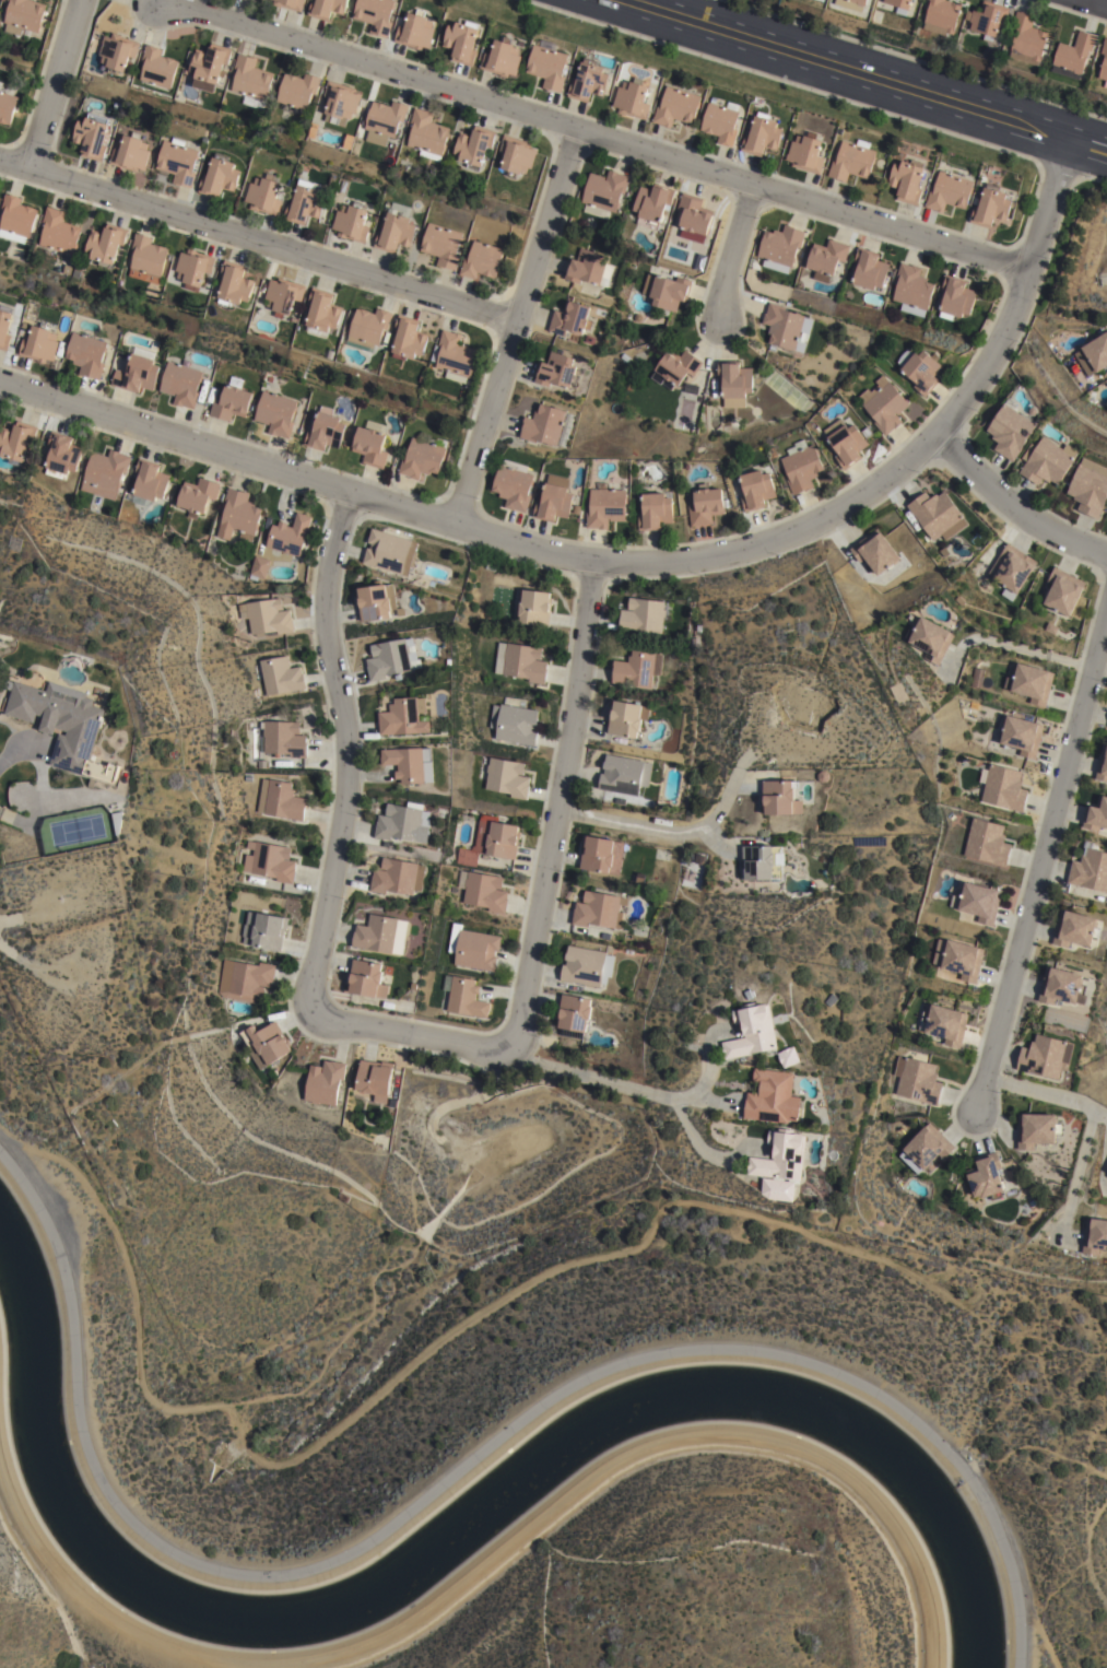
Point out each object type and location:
road: (1098, 2)
building: (291, 3)
building: (850, 3)
building: (900, 4)
building: (327, 8)
building: (375, 14)
building: (23, 16)
building: (941, 16)
building: (987, 19)
building: (416, 30)
building: (1025, 38)
building: (462, 39)
building: (116, 50)
building: (1072, 55)
building: (503, 58)
building: (1104, 62)
building: (547, 63)
building: (210, 64)
building: (157, 67)
road: (864, 75)
building: (250, 80)
building: (589, 81)
road: (55, 82)
building: (297, 89)
building: (341, 101)
building: (632, 101)
building: (7, 102)
building: (676, 106)
building: (385, 117)
building: (721, 121)
road: (594, 132)
building: (426, 134)
building: (762, 136)
building: (92, 138)
building: (473, 144)
building: (131, 154)
building: (805, 154)
building: (516, 155)
building: (852, 160)
building: (177, 161)
building: (217, 178)
building: (907, 181)
building: (333, 183)
building: (344, 186)
building: (950, 191)
building: (603, 192)
building: (263, 196)
building: (305, 202)
building: (652, 204)
building: (992, 207)
building: (693, 218)
building: (16, 219)
building: (352, 222)
building: (396, 228)
building: (58, 234)
road: (258, 238)
building: (106, 244)
building: (443, 245)
building: (780, 247)
road: (732, 249)
building: (148, 256)
building: (826, 259)
building: (482, 260)
building: (192, 268)
building: (588, 268)
building: (67, 270)
building: (870, 270)
building: (233, 284)
building: (912, 290)
building: (666, 291)
building: (283, 295)
building: (956, 298)
building: (321, 312)
building: (569, 320)
road: (516, 325)
building: (786, 327)
building: (5, 328)
building: (368, 328)
building: (408, 339)
building: (40, 345)
building: (1096, 353)
building: (87, 354)
building: (455, 356)
building: (674, 369)
building: (923, 372)
building: (556, 373)
building: (138, 375)
building: (735, 383)
building: (185, 385)
building: (688, 387)
building: (233, 401)
building: (884, 404)
building: (275, 413)
building: (546, 426)
building: (1011, 430)
building: (325, 431)
building: (15, 442)
building: (372, 444)
building: (849, 445)
building: (62, 454)
building: (424, 457)
building: (1047, 462)
building: (801, 467)
building: (105, 474)
building: (151, 482)
building: (513, 485)
building: (1090, 488)
building: (756, 491)
building: (199, 497)
building: (553, 500)
road: (1011, 504)
building: (704, 505)
building: (604, 507)
building: (576, 509)
building: (655, 512)
building: (238, 513)
building: (937, 513)
building: (288, 532)
building: (387, 547)
building: (874, 549)
building: (943, 550)
road: (634, 561)
building: (259, 564)
building: (1010, 566)
building: (1062, 587)
building: (376, 602)
building: (534, 608)
building: (400, 612)
building: (267, 613)
building: (643, 616)
building: (1050, 626)
building: (699, 630)
building: (930, 635)
building: (695, 644)
road: (1011, 646)
building: (390, 659)
building: (520, 662)
building: (636, 670)
building: (281, 673)
building: (1032, 679)
building: (254, 692)
building: (403, 718)
building: (60, 721)
building: (626, 721)
building: (514, 725)
building: (1106, 726)
building: (1021, 731)
building: (283, 736)
road: (343, 750)
building: (1102, 763)
building: (409, 764)
building: (623, 776)
building: (507, 778)
building: (1002, 785)
building: (779, 795)
building: (280, 798)
road: (558, 803)
building: (1096, 812)
road: (4, 813)
building: (401, 824)
road: (661, 829)
building: (503, 839)
building: (987, 839)
building: (596, 850)
building: (467, 856)
road: (1041, 858)
building: (269, 859)
building: (762, 859)
building: (1090, 869)
building: (397, 874)
building: (638, 879)
building: (483, 889)
building: (981, 900)
building: (598, 908)
building: (1074, 926)
building: (263, 930)
building: (380, 932)
building: (450, 937)
building: (474, 947)
building: (959, 955)
building: (584, 965)
building: (367, 976)
building: (244, 978)
building: (414, 984)
building: (1061, 984)
building: (747, 994)
building: (464, 995)
building: (831, 999)
building: (572, 1013)
building: (944, 1021)
building: (752, 1030)
road: (411, 1035)
building: (263, 1042)
building: (1045, 1055)
building: (788, 1056)
building: (375, 1078)
building: (917, 1079)
road: (598, 1080)
building: (323, 1081)
building: (772, 1096)
building: (393, 1103)
road: (1092, 1116)
building: (1035, 1128)
road: (702, 1138)
building: (926, 1147)
building: (780, 1154)
building: (985, 1175)
building: (1106, 1175)
building: (887, 1182)
building: (776, 1189)
building: (1094, 1235)
road: (662, 1444)
road: (978, 1502)
road: (320, 1570)
road: (104, 1621)

